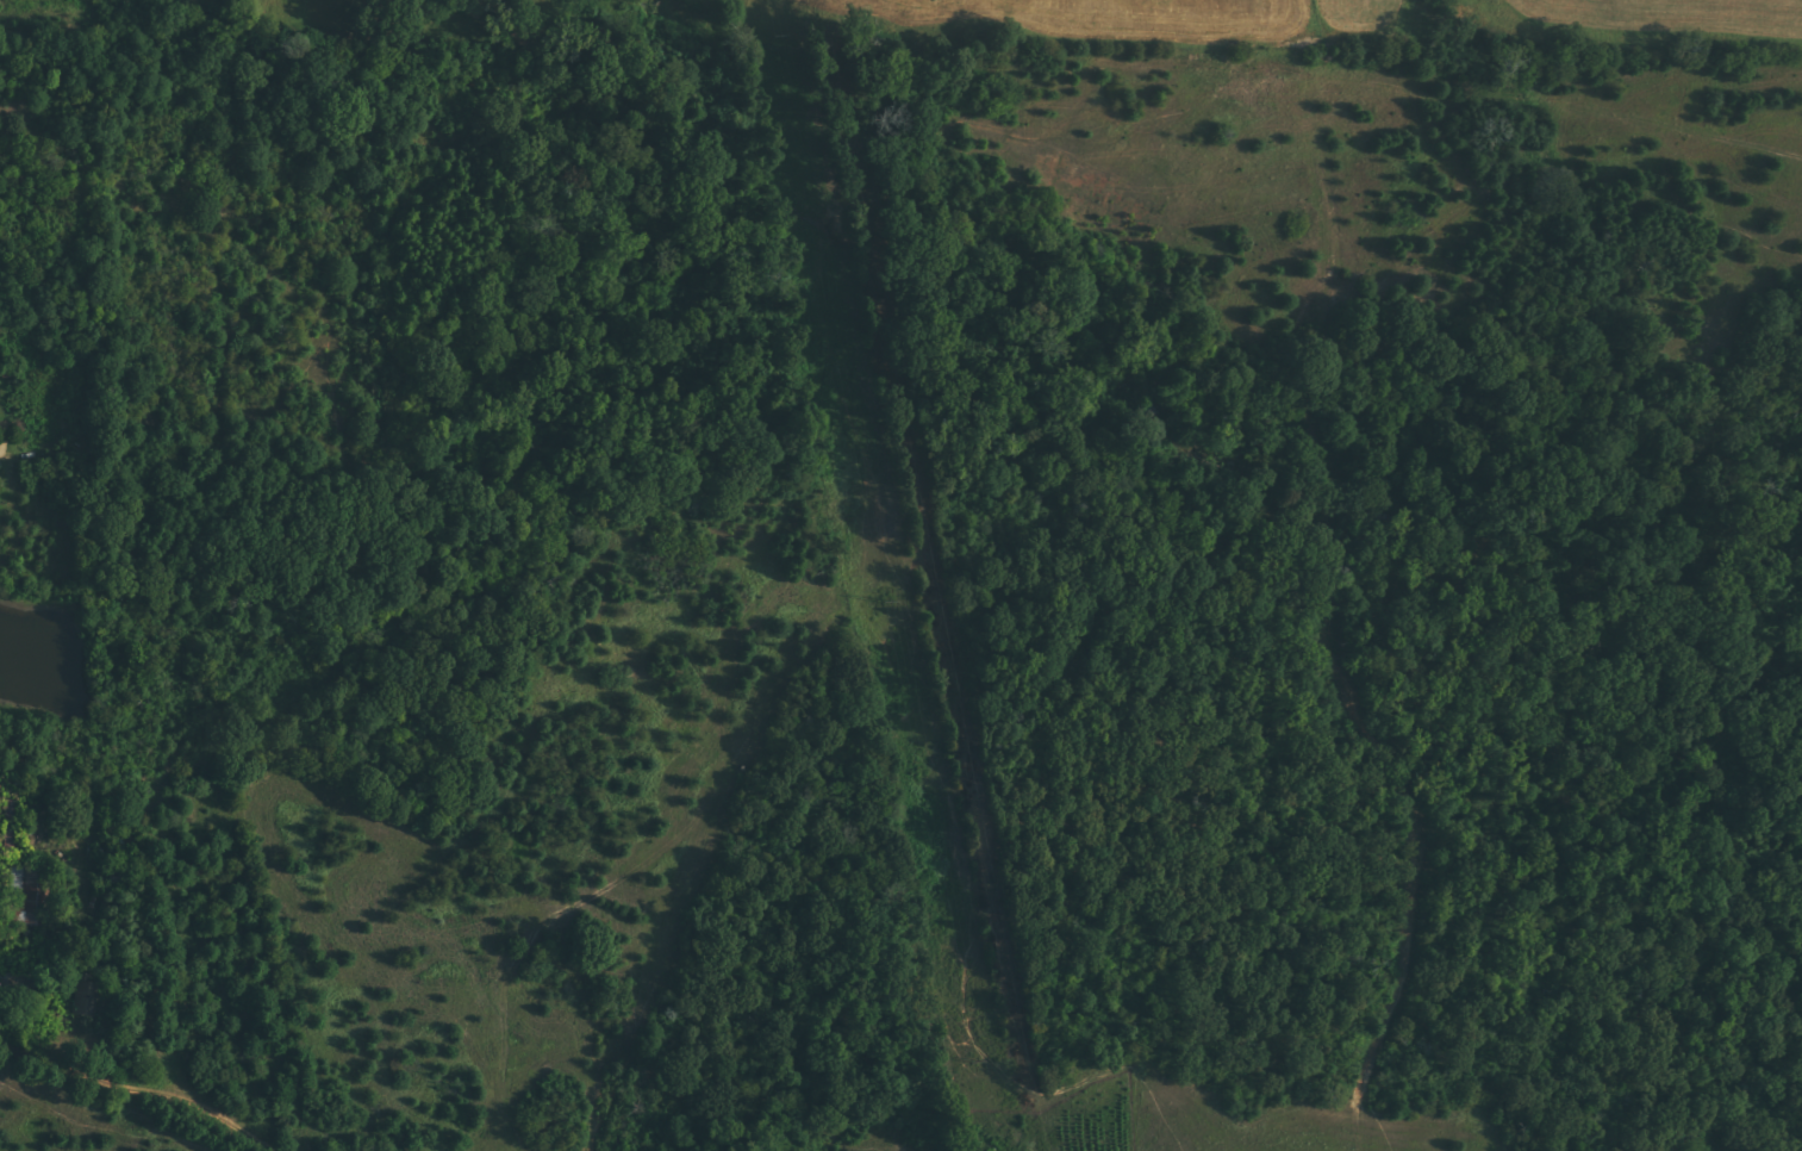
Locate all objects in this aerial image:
road: (10, 453)
power tower: (875, 597)
power tower: (969, 1059)
road: (114, 1100)

